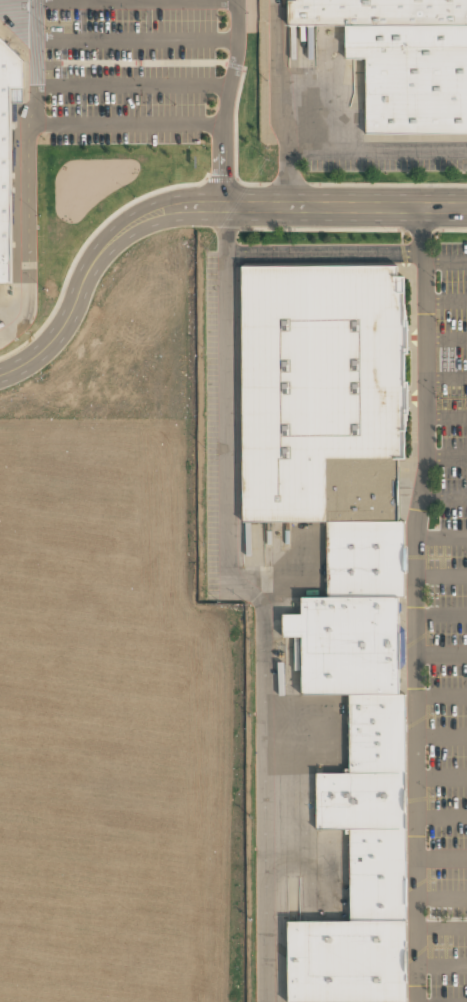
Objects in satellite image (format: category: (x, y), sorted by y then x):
road: (87, 0)
road: (9, 1)
road: (50, 1)
road: (73, 1)
building: (375, 12)
road: (138, 41)
building: (411, 77)
road: (134, 84)
road: (126, 126)
building: (7, 151)
road: (24, 172)
road: (319, 205)
road: (321, 254)
road: (444, 261)
road: (79, 283)
road: (445, 301)
road: (445, 339)
road: (445, 378)
building: (317, 379)
road: (445, 417)
road: (444, 458)
building: (362, 488)
road: (441, 497)
road: (221, 507)
road: (440, 537)
building: (366, 556)
road: (440, 575)
road: (412, 603)
road: (439, 613)
building: (348, 642)
road: (440, 653)
road: (440, 694)
building: (377, 732)
road: (440, 736)
road: (440, 777)
building: (359, 800)
road: (441, 818)
road: (441, 858)
building: (377, 872)
road: (441, 899)
road: (441, 928)
building: (345, 959)
road: (441, 967)

